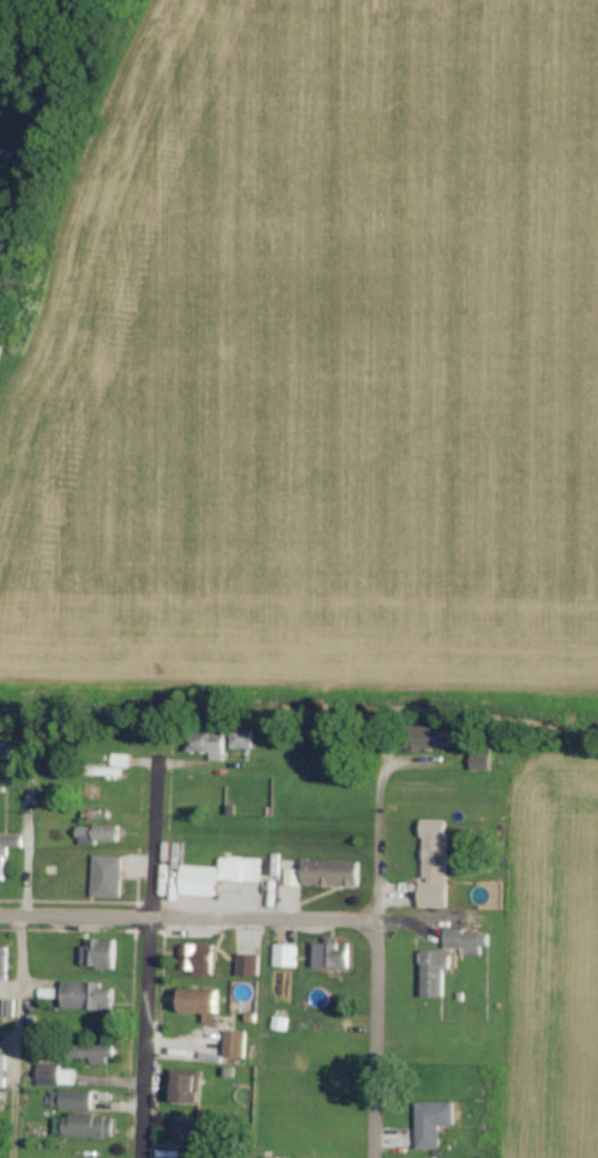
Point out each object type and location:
building: (429, 735)
building: (241, 736)
building: (206, 742)
building: (481, 759)
building: (114, 764)
building: (98, 832)
building: (2, 862)
building: (434, 862)
building: (331, 870)
building: (218, 873)
building: (107, 874)
road: (187, 919)
road: (373, 922)
building: (466, 937)
building: (98, 952)
building: (331, 952)
building: (285, 953)
building: (195, 957)
building: (4, 961)
building: (248, 963)
road: (144, 965)
building: (434, 970)
building: (87, 994)
building: (201, 1002)
building: (280, 1020)
road: (17, 1038)
building: (235, 1042)
building: (95, 1050)
building: (2, 1069)
building: (55, 1073)
building: (188, 1084)
building: (72, 1098)
building: (433, 1120)
building: (84, 1124)
building: (182, 1126)
building: (42, 1157)

